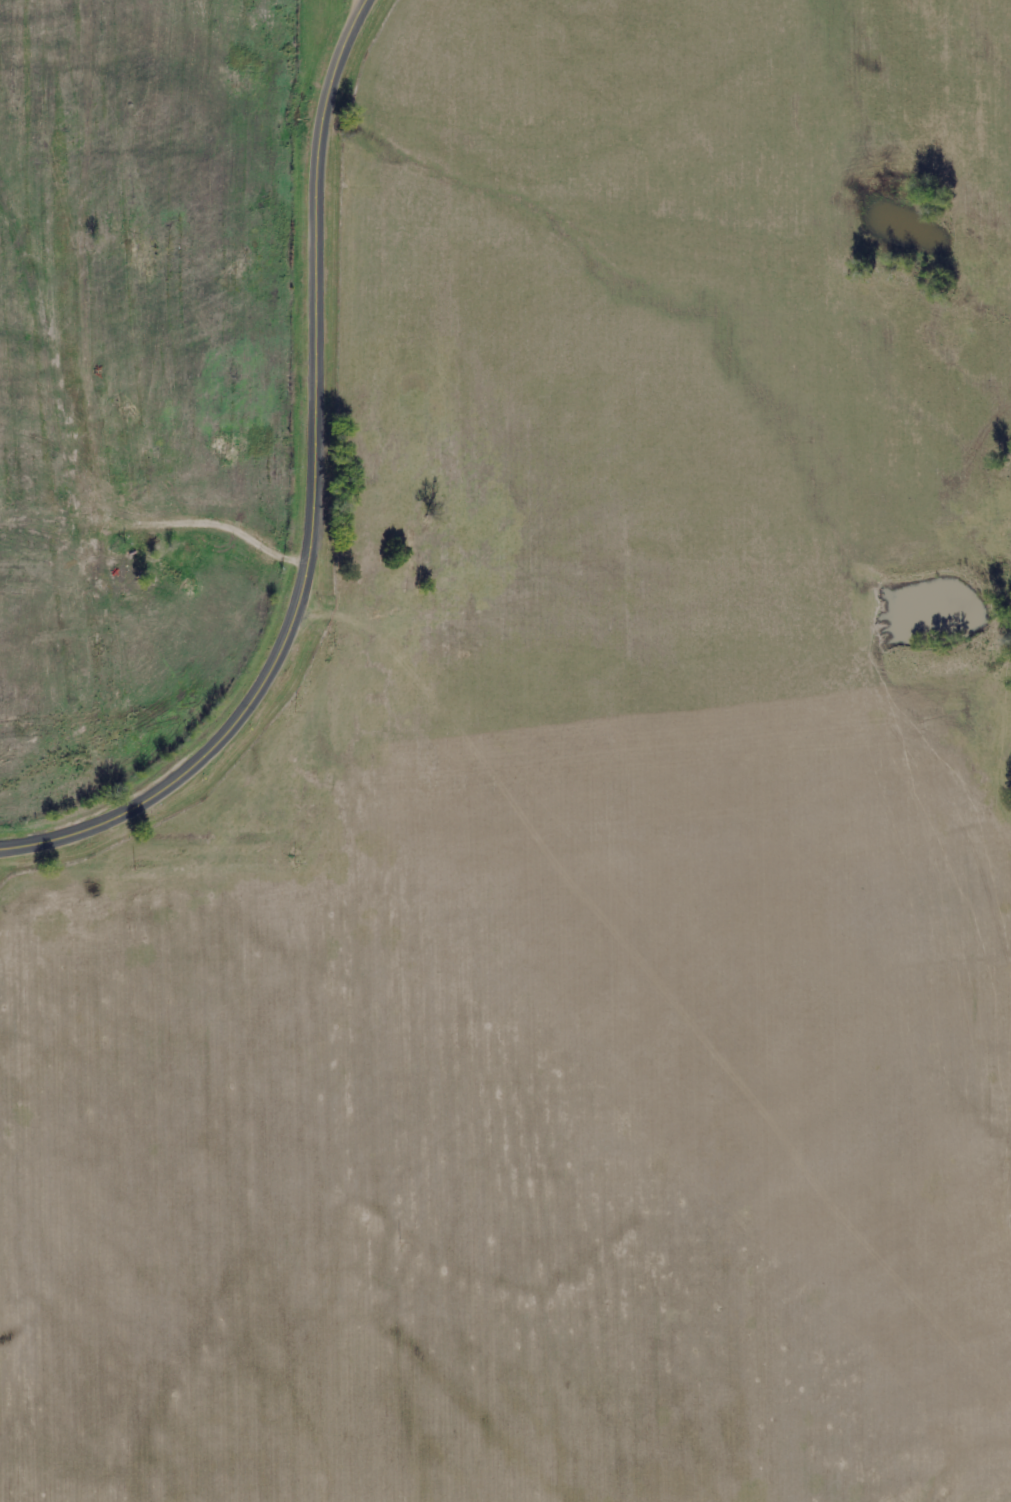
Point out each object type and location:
road: (313, 503)

